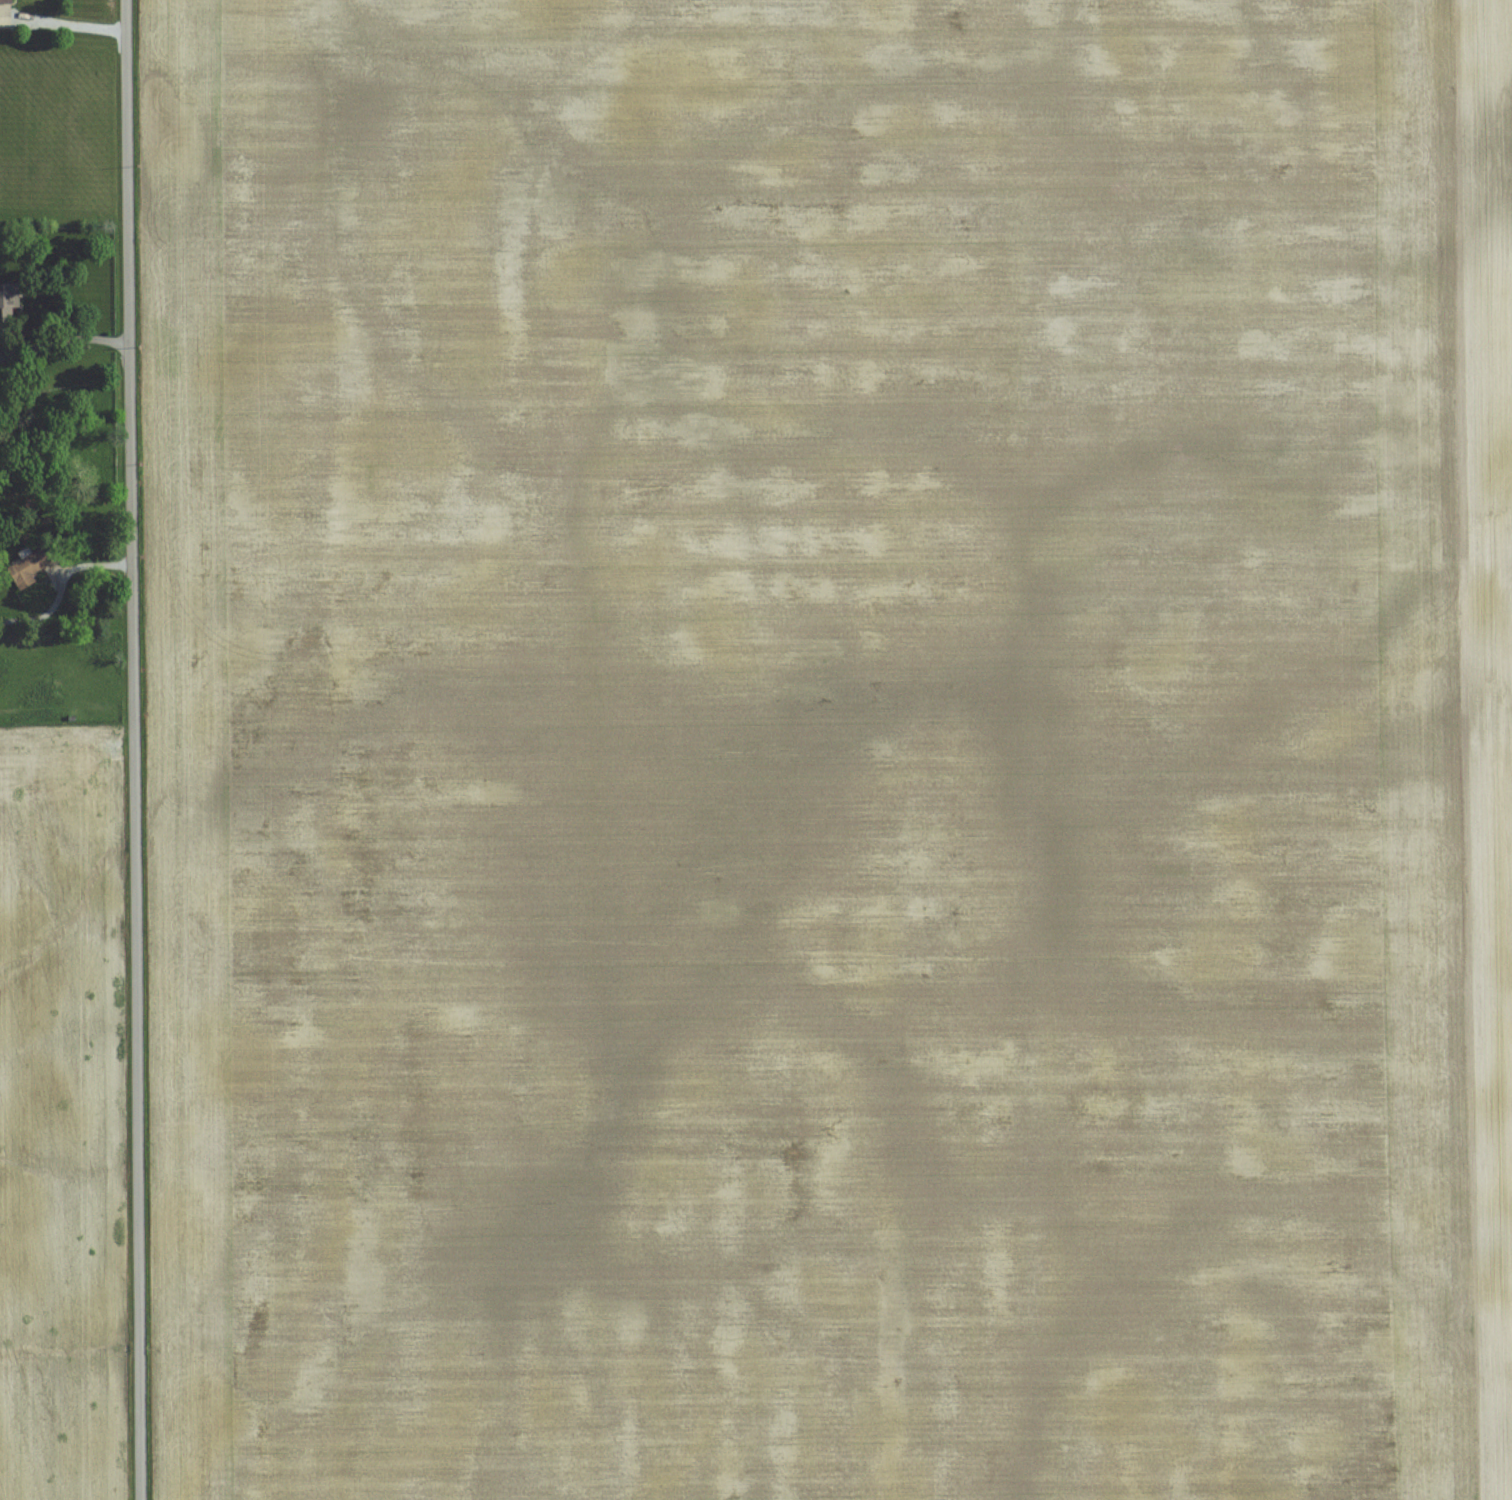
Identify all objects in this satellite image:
building: (7, 2)
road: (62, 24)
building: (10, 304)
road: (62, 335)
building: (31, 566)
road: (132, 749)

